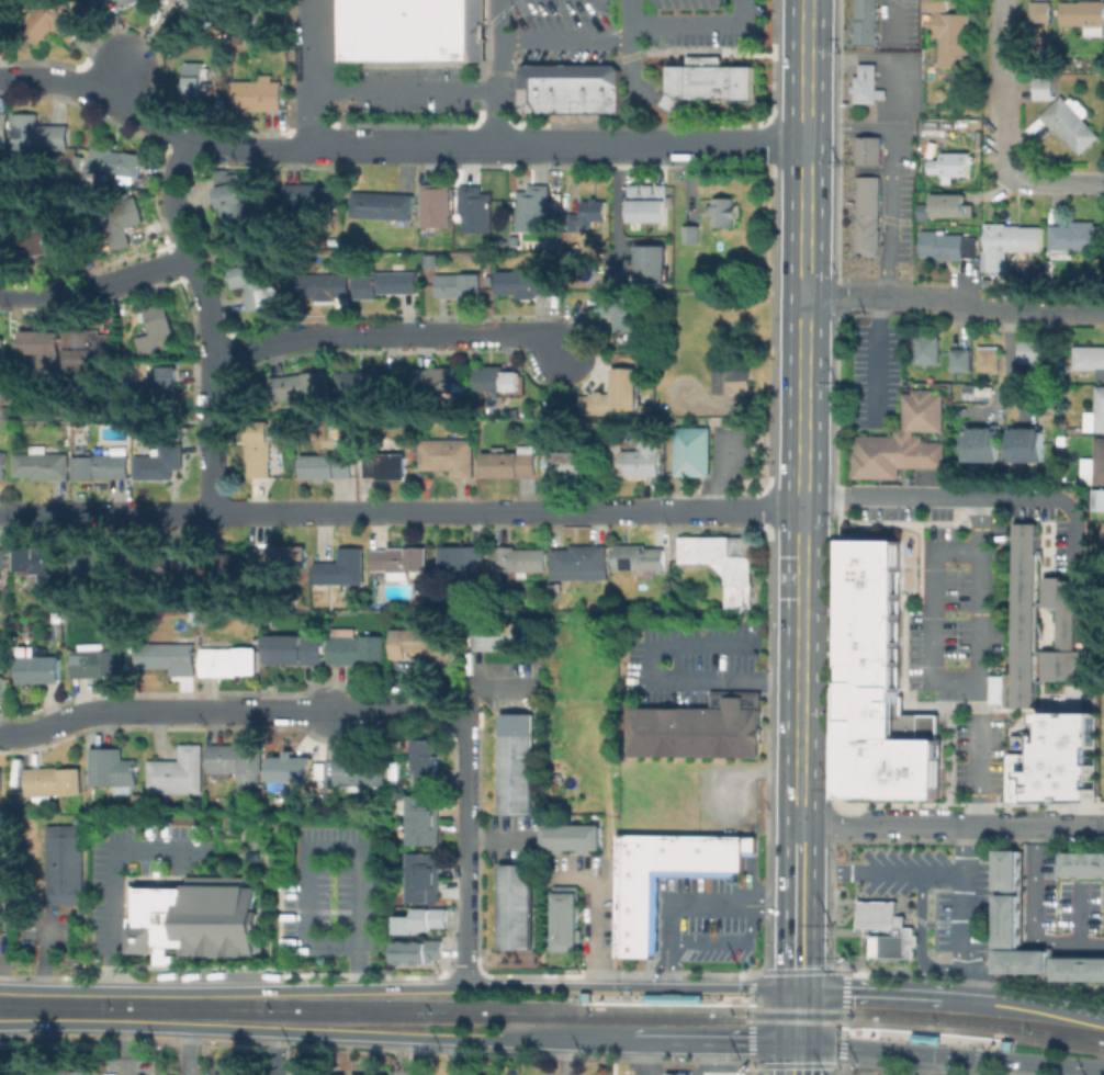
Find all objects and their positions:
building: (98, 1)
building: (126, 3)
building: (936, 4)
building: (196, 8)
building: (1041, 11)
building: (1084, 14)
road: (885, 18)
road: (631, 20)
building: (54, 21)
road: (696, 21)
building: (866, 22)
parking lot: (628, 25)
building: (4, 30)
building: (412, 30)
building: (953, 36)
road: (566, 38)
building: (1081, 58)
building: (1101, 61)
road: (503, 71)
road: (307, 73)
road: (631, 77)
road: (5, 79)
road: (120, 79)
building: (196, 79)
building: (707, 79)
building: (866, 83)
road: (1004, 86)
building: (532, 87)
building: (1047, 87)
road: (406, 88)
building: (560, 88)
building: (584, 88)
building: (606, 88)
building: (223, 89)
parking lot: (410, 89)
building: (258, 93)
road: (104, 97)
road: (666, 104)
road: (689, 122)
building: (1072, 122)
building: (4, 126)
building: (939, 126)
building: (36, 133)
road: (610, 144)
road: (309, 146)
road: (381, 146)
road: (230, 148)
building: (869, 149)
building: (116, 162)
building: (953, 163)
road: (890, 170)
road: (1055, 182)
building: (311, 196)
building: (650, 202)
building: (950, 203)
road: (615, 205)
building: (383, 206)
building: (437, 206)
building: (238, 208)
building: (534, 210)
building: (723, 211)
building: (477, 212)
building: (921, 213)
building: (589, 214)
building: (868, 215)
building: (119, 218)
building: (691, 234)
building: (42, 236)
building: (1078, 236)
building: (334, 241)
building: (3, 242)
building: (1009, 244)
building: (947, 245)
road: (193, 251)
building: (431, 259)
building: (653, 264)
building: (489, 279)
building: (254, 282)
building: (387, 283)
building: (525, 283)
building: (330, 284)
road: (108, 285)
building: (459, 285)
road: (9, 295)
road: (856, 297)
building: (624, 310)
road: (1005, 312)
building: (158, 330)
road: (388, 335)
building: (43, 347)
building: (86, 347)
building: (2, 348)
building: (927, 348)
building: (1038, 354)
building: (1089, 357)
road: (875, 359)
building: (961, 359)
building: (989, 359)
building: (498, 378)
building: (439, 380)
building: (732, 380)
building: (368, 382)
building: (166, 384)
building: (300, 386)
building: (970, 388)
building: (617, 394)
building: (647, 408)
road: (802, 412)
building: (1095, 412)
building: (69, 430)
building: (1075, 430)
road: (213, 440)
building: (904, 440)
building: (982, 443)
building: (1028, 444)
building: (259, 448)
building: (694, 452)
building: (449, 455)
building: (632, 457)
building: (1100, 460)
building: (160, 462)
building: (510, 462)
building: (42, 463)
building: (571, 463)
building: (2, 464)
building: (102, 465)
building: (327, 465)
building: (386, 465)
road: (889, 495)
building: (1100, 500)
road: (1050, 501)
road: (724, 509)
road: (323, 512)
road: (976, 522)
building: (1102, 534)
building: (462, 556)
building: (639, 556)
building: (282, 557)
building: (401, 559)
building: (519, 559)
building: (3, 561)
building: (581, 562)
building: (42, 563)
building: (109, 563)
building: (724, 563)
building: (222, 564)
building: (162, 565)
building: (343, 567)
road: (931, 611)
road: (976, 611)
building: (1028, 615)
building: (1064, 627)
building: (496, 635)
building: (424, 641)
building: (356, 646)
building: (295, 649)
building: (170, 655)
building: (97, 660)
building: (229, 660)
building: (38, 668)
road: (660, 678)
building: (1, 686)
building: (994, 688)
building: (886, 689)
road: (212, 709)
road: (438, 712)
road: (459, 718)
building: (701, 729)
road: (976, 733)
road: (466, 758)
building: (235, 759)
building: (1055, 760)
building: (427, 761)
building: (515, 763)
building: (113, 767)
building: (292, 768)
building: (178, 771)
building: (361, 772)
building: (1, 780)
building: (53, 781)
building: (138, 801)
road: (976, 808)
building: (425, 819)
road: (466, 819)
road: (951, 825)
building: (572, 836)
road: (331, 848)
building: (65, 863)
building: (1084, 865)
building: (1010, 871)
road: (466, 874)
road: (878, 874)
building: (425, 876)
road: (112, 878)
building: (218, 881)
building: (136, 897)
road: (466, 902)
road: (691, 904)
building: (517, 906)
road: (798, 907)
road: (958, 912)
building: (639, 915)
road: (1027, 918)
building: (198, 919)
building: (420, 920)
building: (1011, 920)
building: (566, 921)
building: (135, 923)
building: (888, 928)
road: (730, 944)
road: (466, 947)
building: (417, 951)
building: (165, 952)
building: (1023, 960)
building: (1080, 967)
road: (624, 983)
road: (398, 988)
traffic signals: (798, 991)
railway: (578, 993)
road: (951, 996)
road: (684, 998)
road: (797, 1002)
railway: (290, 1003)
railway: (662, 1007)
railway: (796, 1008)
railway: (372, 1015)
road: (751, 1017)
railway: (977, 1017)
road: (843, 1019)
railway: (797, 1020)
railway: (932, 1027)
road: (797, 1030)
road: (315, 1033)
road: (912, 1036)
railway: (1059, 1041)
road: (714, 1044)
traffic signals: (797, 1045)
railway: (1011, 1050)
road: (185, 1052)
road: (412, 1056)
road: (950, 1056)
road: (452, 1057)
road: (562, 1057)
road: (797, 1060)
road: (975, 1060)
building: (680, 1063)
road: (944, 1065)
road: (1069, 1071)
building: (58, 1072)
building: (228, 1073)
building: (340, 1074)
road: (673, 1074)
building: (676, 1074)

